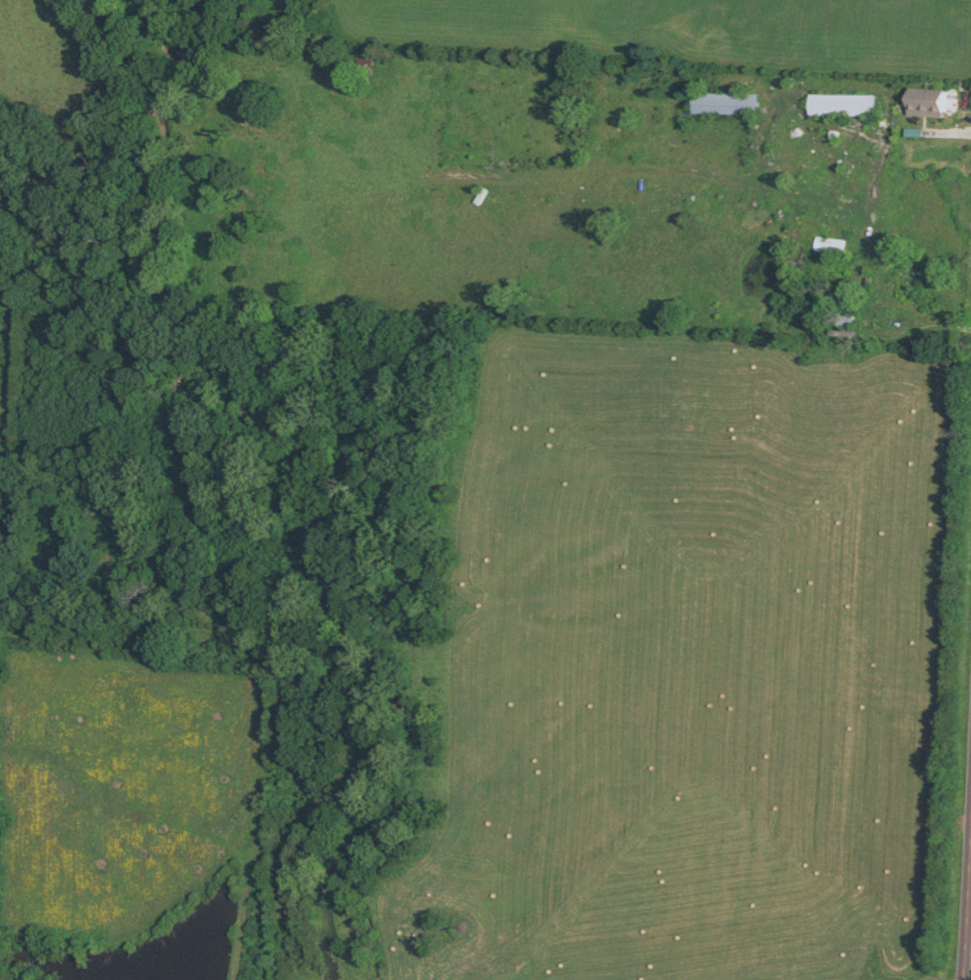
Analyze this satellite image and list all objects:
building: (923, 103)
building: (724, 104)
building: (843, 105)
road: (769, 186)
road: (877, 224)
building: (905, 286)
road: (968, 939)

